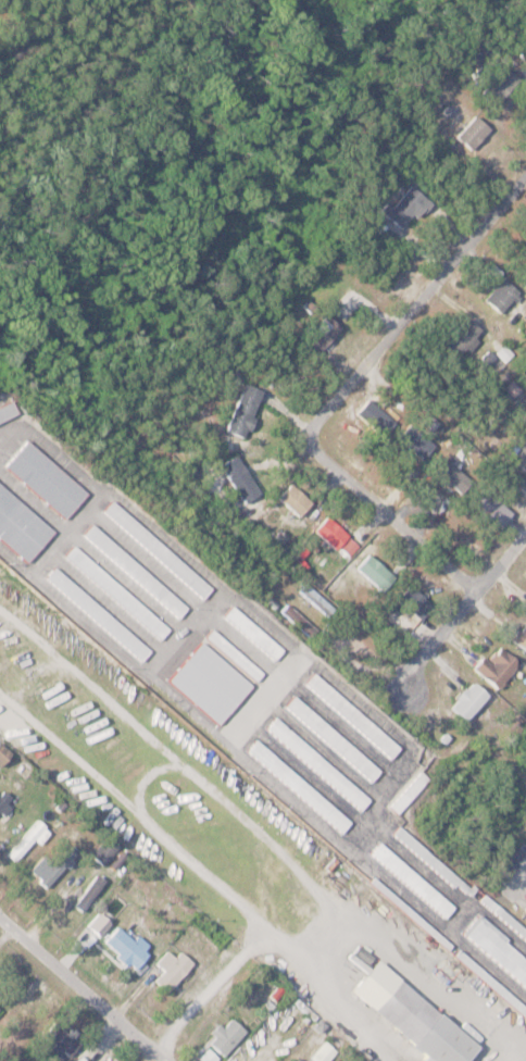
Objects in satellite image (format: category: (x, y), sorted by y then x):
building: (494, 87)
building: (468, 135)
building: (402, 209)
building: (498, 298)
building: (316, 336)
building: (459, 338)
building: (239, 412)
building: (4, 413)
building: (370, 419)
road: (315, 421)
building: (410, 444)
building: (518, 457)
building: (449, 477)
building: (234, 479)
building: (40, 480)
building: (290, 501)
building: (487, 509)
building: (18, 529)
building: (326, 534)
building: (153, 551)
building: (131, 572)
building: (372, 573)
building: (113, 594)
building: (411, 603)
building: (109, 628)
building: (250, 634)
building: (230, 656)
building: (493, 669)
building: (349, 716)
building: (329, 740)
building: (1, 754)
building: (314, 765)
building: (295, 788)
building: (405, 794)
building: (2, 802)
building: (25, 845)
building: (100, 852)
building: (428, 862)
building: (48, 870)
road: (518, 874)
building: (409, 882)
building: (524, 910)
building: (95, 926)
road: (450, 926)
road: (366, 933)
building: (124, 949)
building: (494, 953)
building: (168, 971)
road: (83, 989)
building: (408, 1018)
building: (63, 1037)
building: (223, 1038)
building: (320, 1053)
building: (292, 1060)

